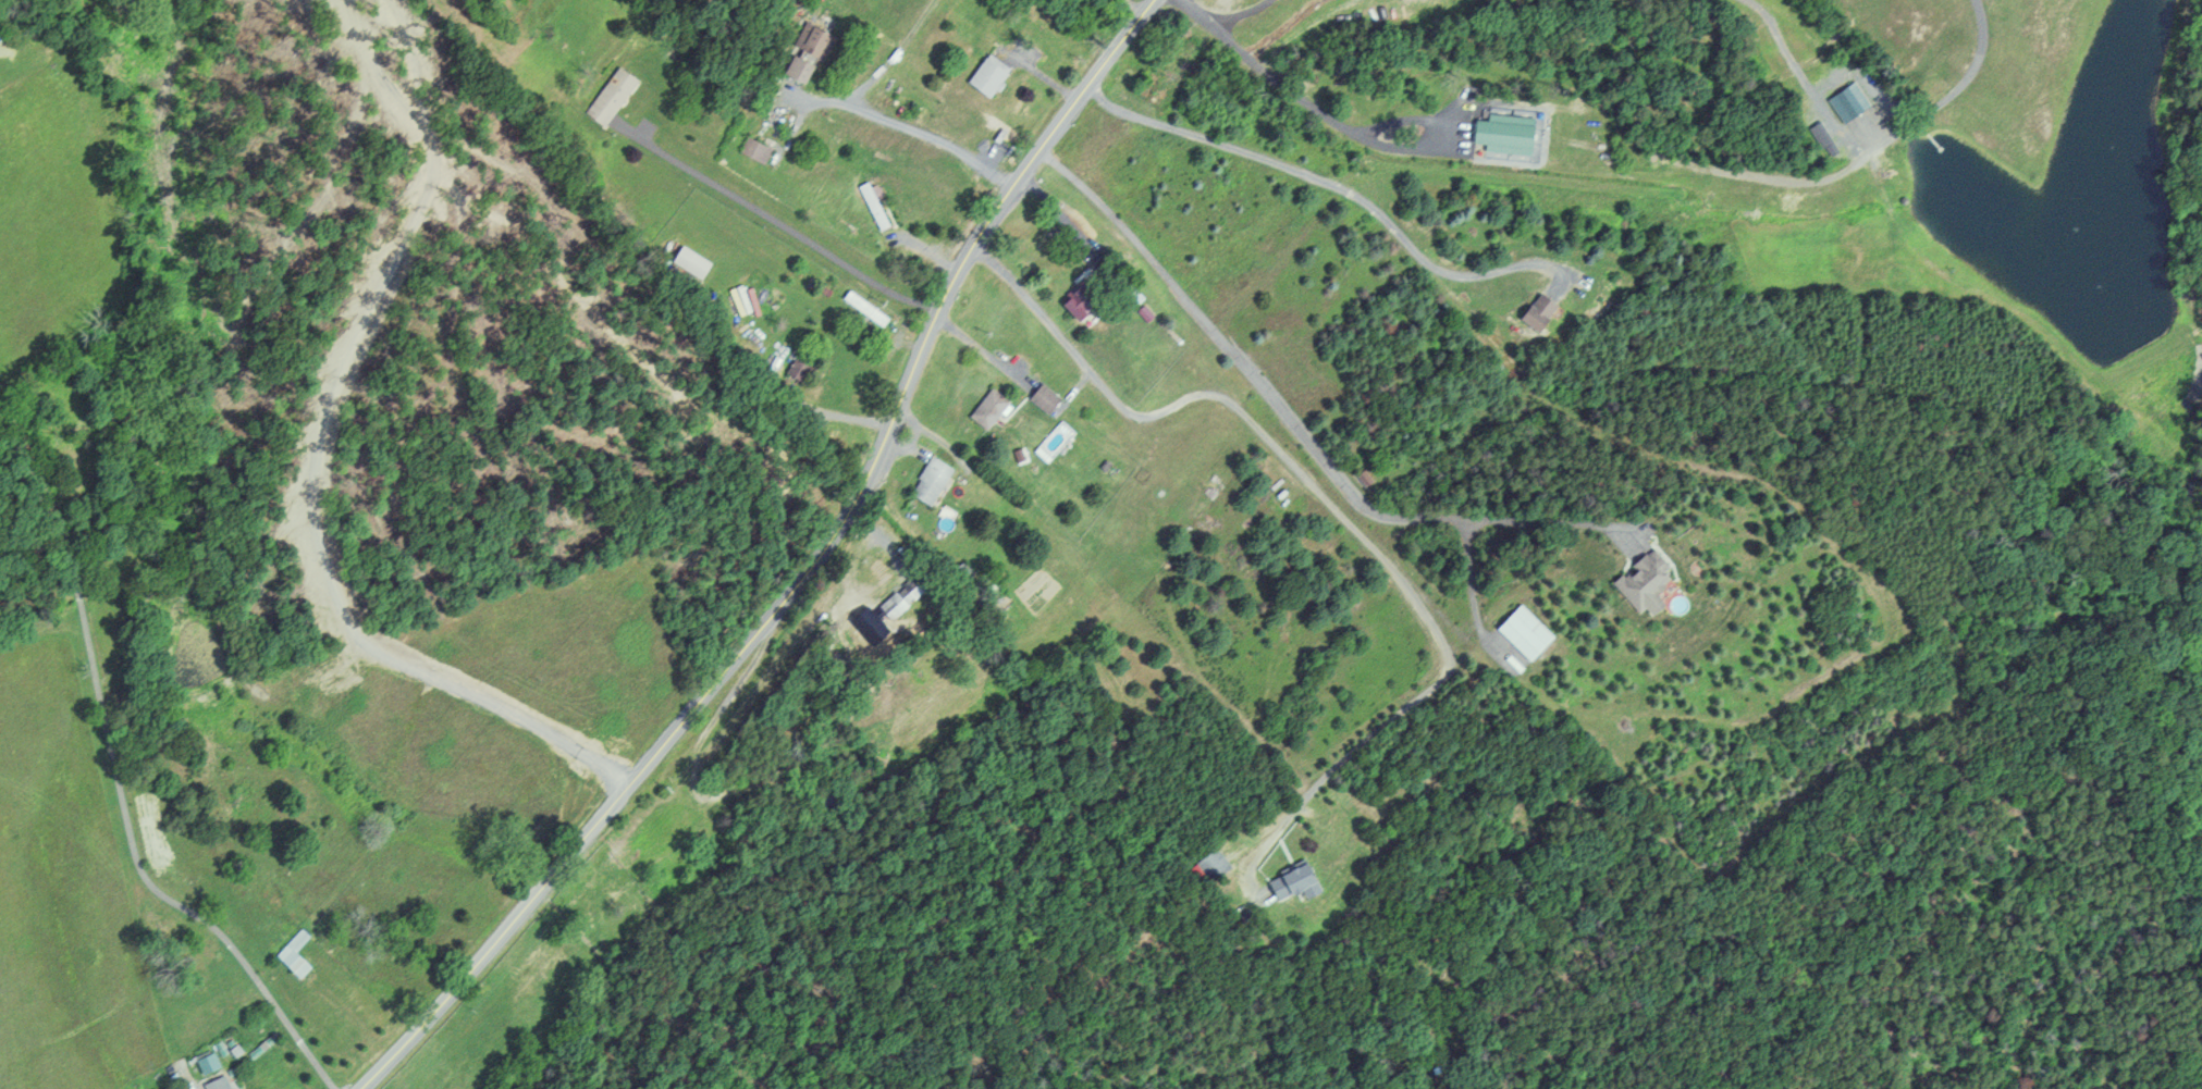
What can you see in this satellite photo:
road: (1130, 8)
road: (1238, 16)
building: (1954, 47)
building: (814, 53)
road: (1266, 72)
building: (992, 76)
building: (613, 96)
road: (1947, 96)
building: (1850, 102)
road: (907, 126)
road: (1459, 126)
building: (1509, 133)
building: (753, 148)
road: (1331, 186)
building: (874, 206)
road: (1053, 211)
road: (774, 220)
building: (697, 261)
building: (1083, 300)
building: (869, 308)
building: (1541, 312)
road: (1241, 364)
building: (1048, 398)
building: (992, 408)
building: (935, 480)
road: (1325, 503)
road: (1555, 522)
road: (801, 576)
building: (1648, 583)
building: (905, 597)
road: (1469, 597)
building: (1527, 633)
road: (114, 776)
building: (1216, 864)
building: (1301, 881)
building: (296, 954)
building: (219, 1082)

